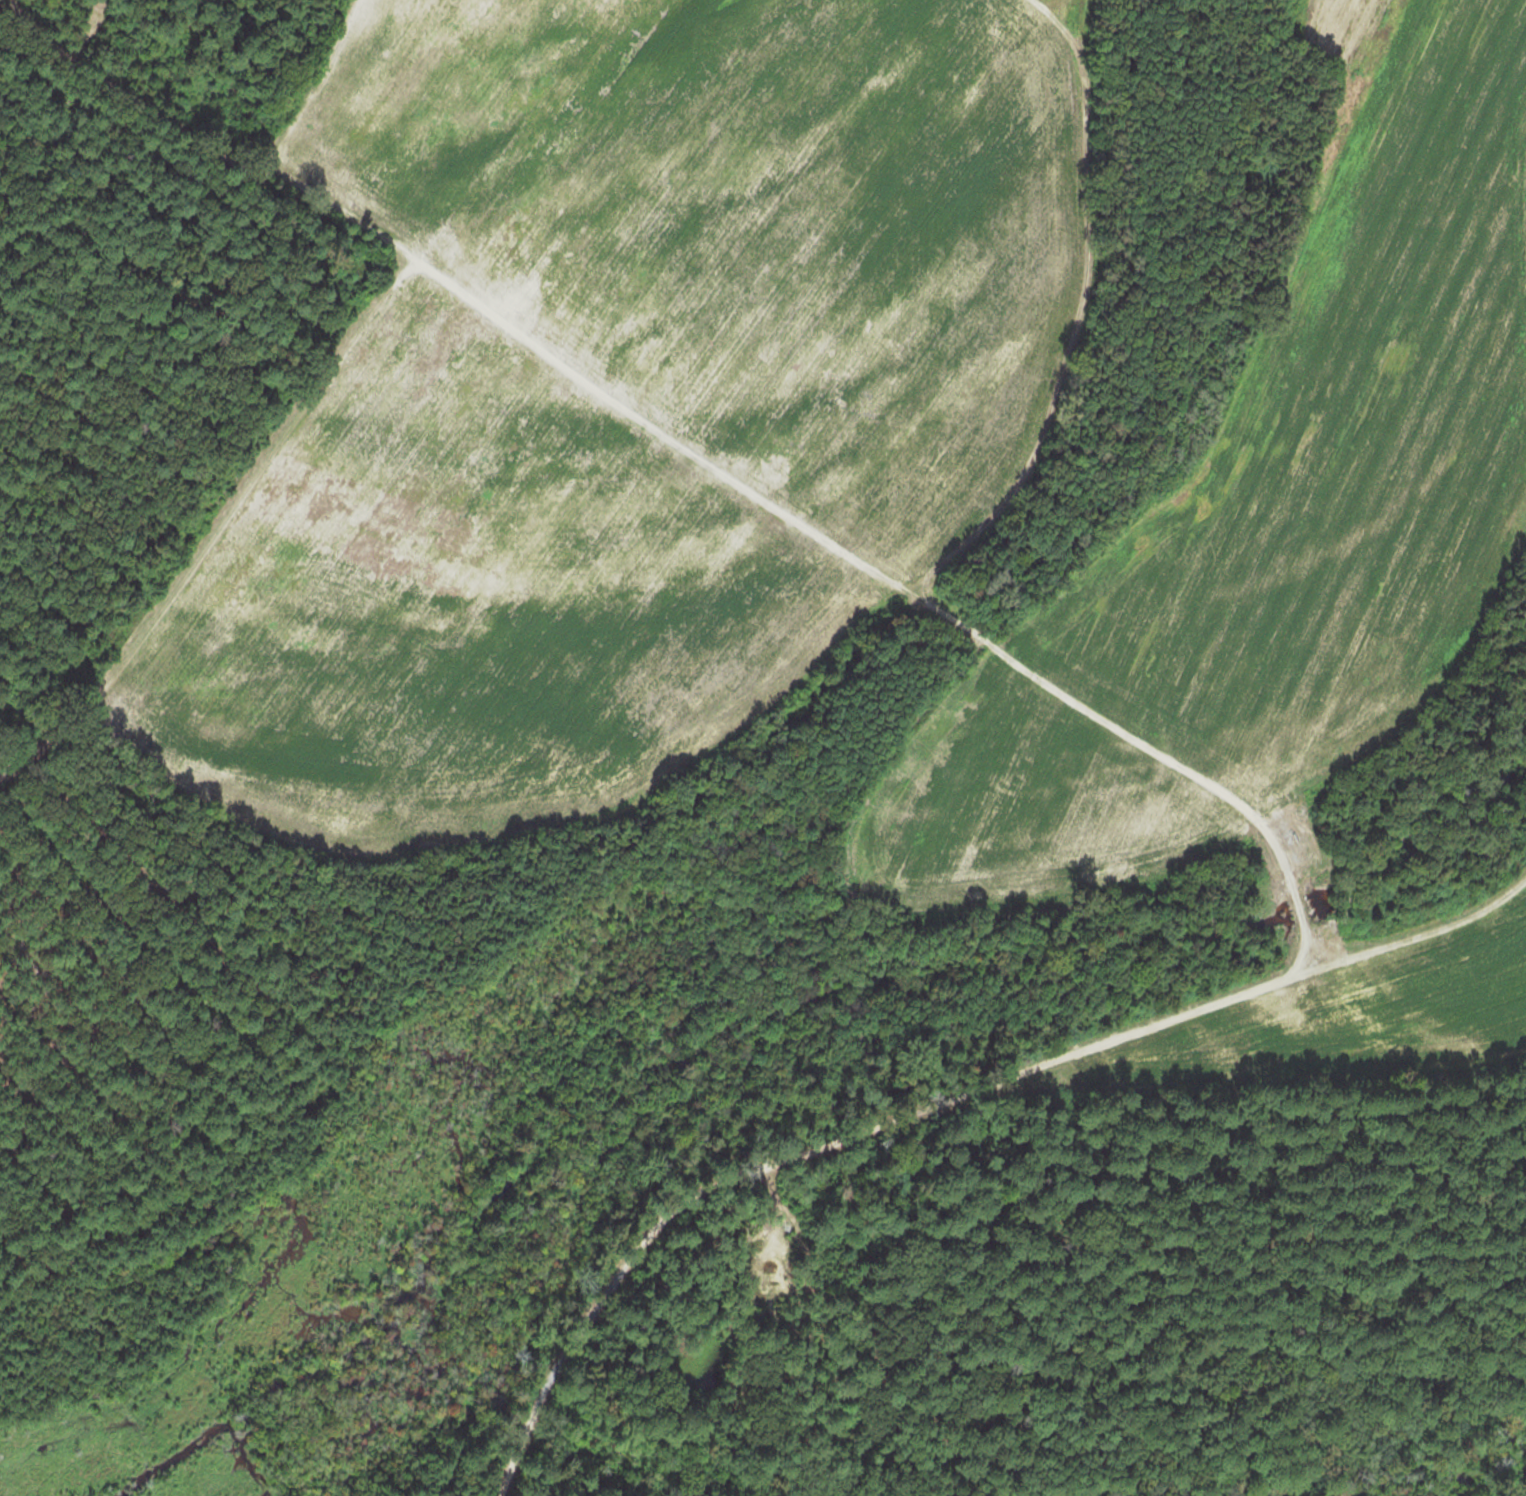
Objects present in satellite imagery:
road: (226, 524)
road: (1131, 747)

